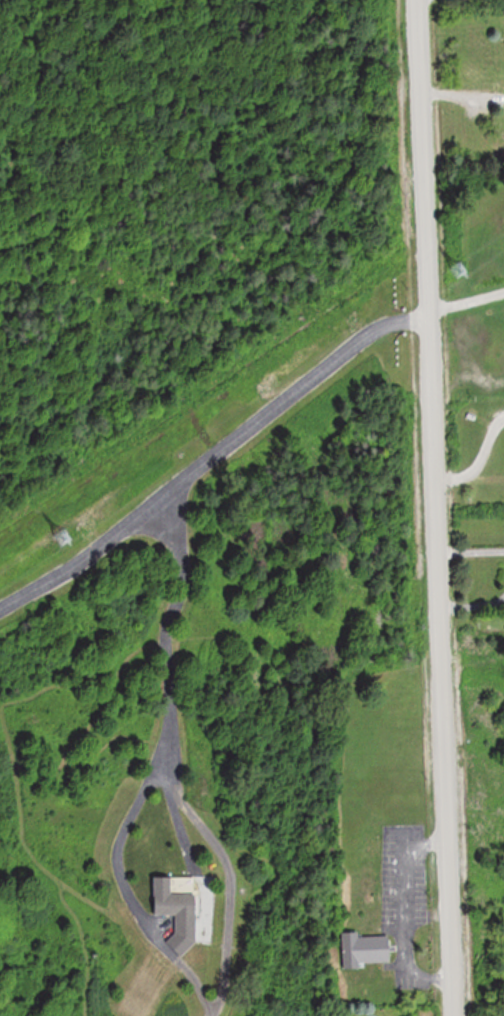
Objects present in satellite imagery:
road: (460, 93)
power tower: (464, 270)
road: (465, 306)
road: (294, 393)
road: (479, 464)
road: (432, 507)
power tower: (65, 538)
road: (469, 551)
road: (88, 554)
road: (168, 677)
building: (179, 908)
building: (364, 948)

